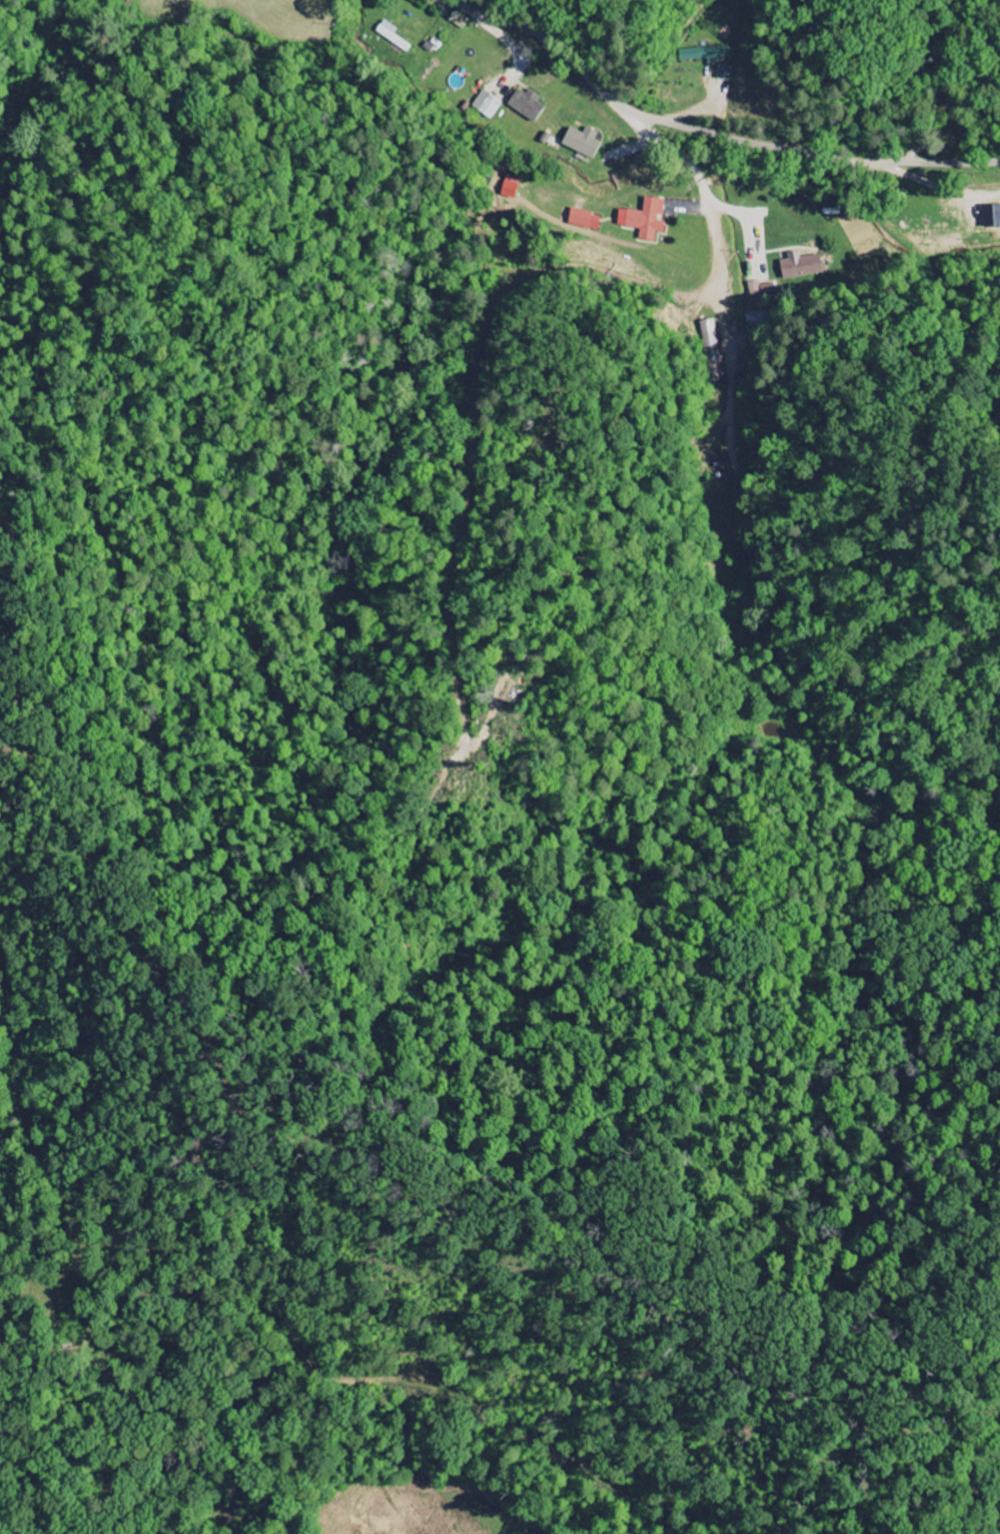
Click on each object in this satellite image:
building: (390, 35)
building: (703, 54)
building: (721, 72)
building: (486, 104)
building: (524, 104)
park: (951, 106)
road: (723, 135)
building: (580, 141)
building: (509, 186)
building: (643, 218)
building: (582, 219)
building: (798, 265)
building: (752, 288)
building: (757, 319)
building: (711, 350)

